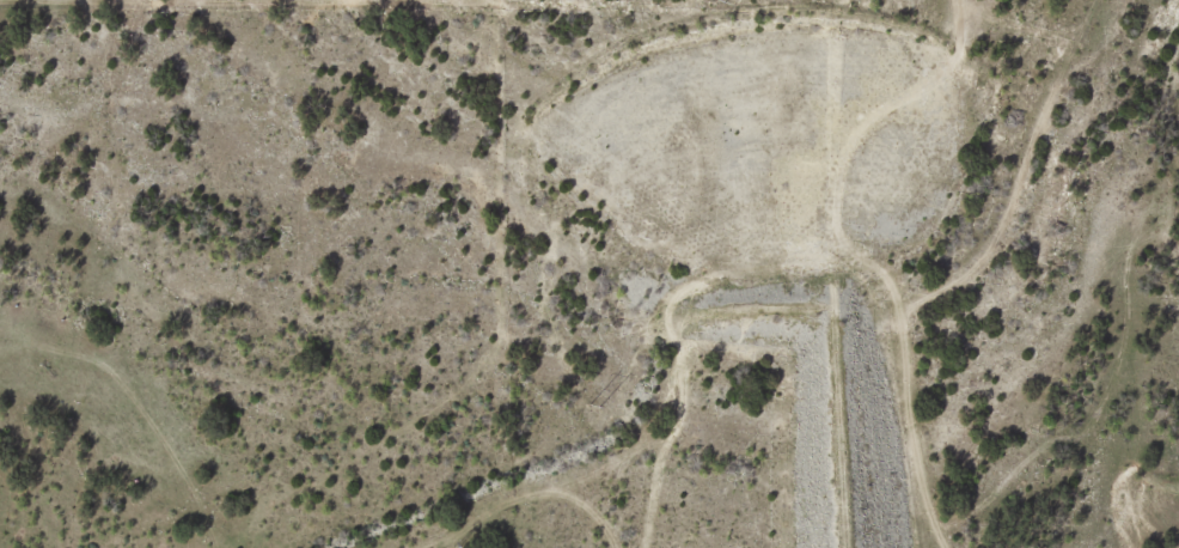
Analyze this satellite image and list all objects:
road: (995, 182)
road: (444, 199)
power tower: (592, 402)
dam: (851, 422)

